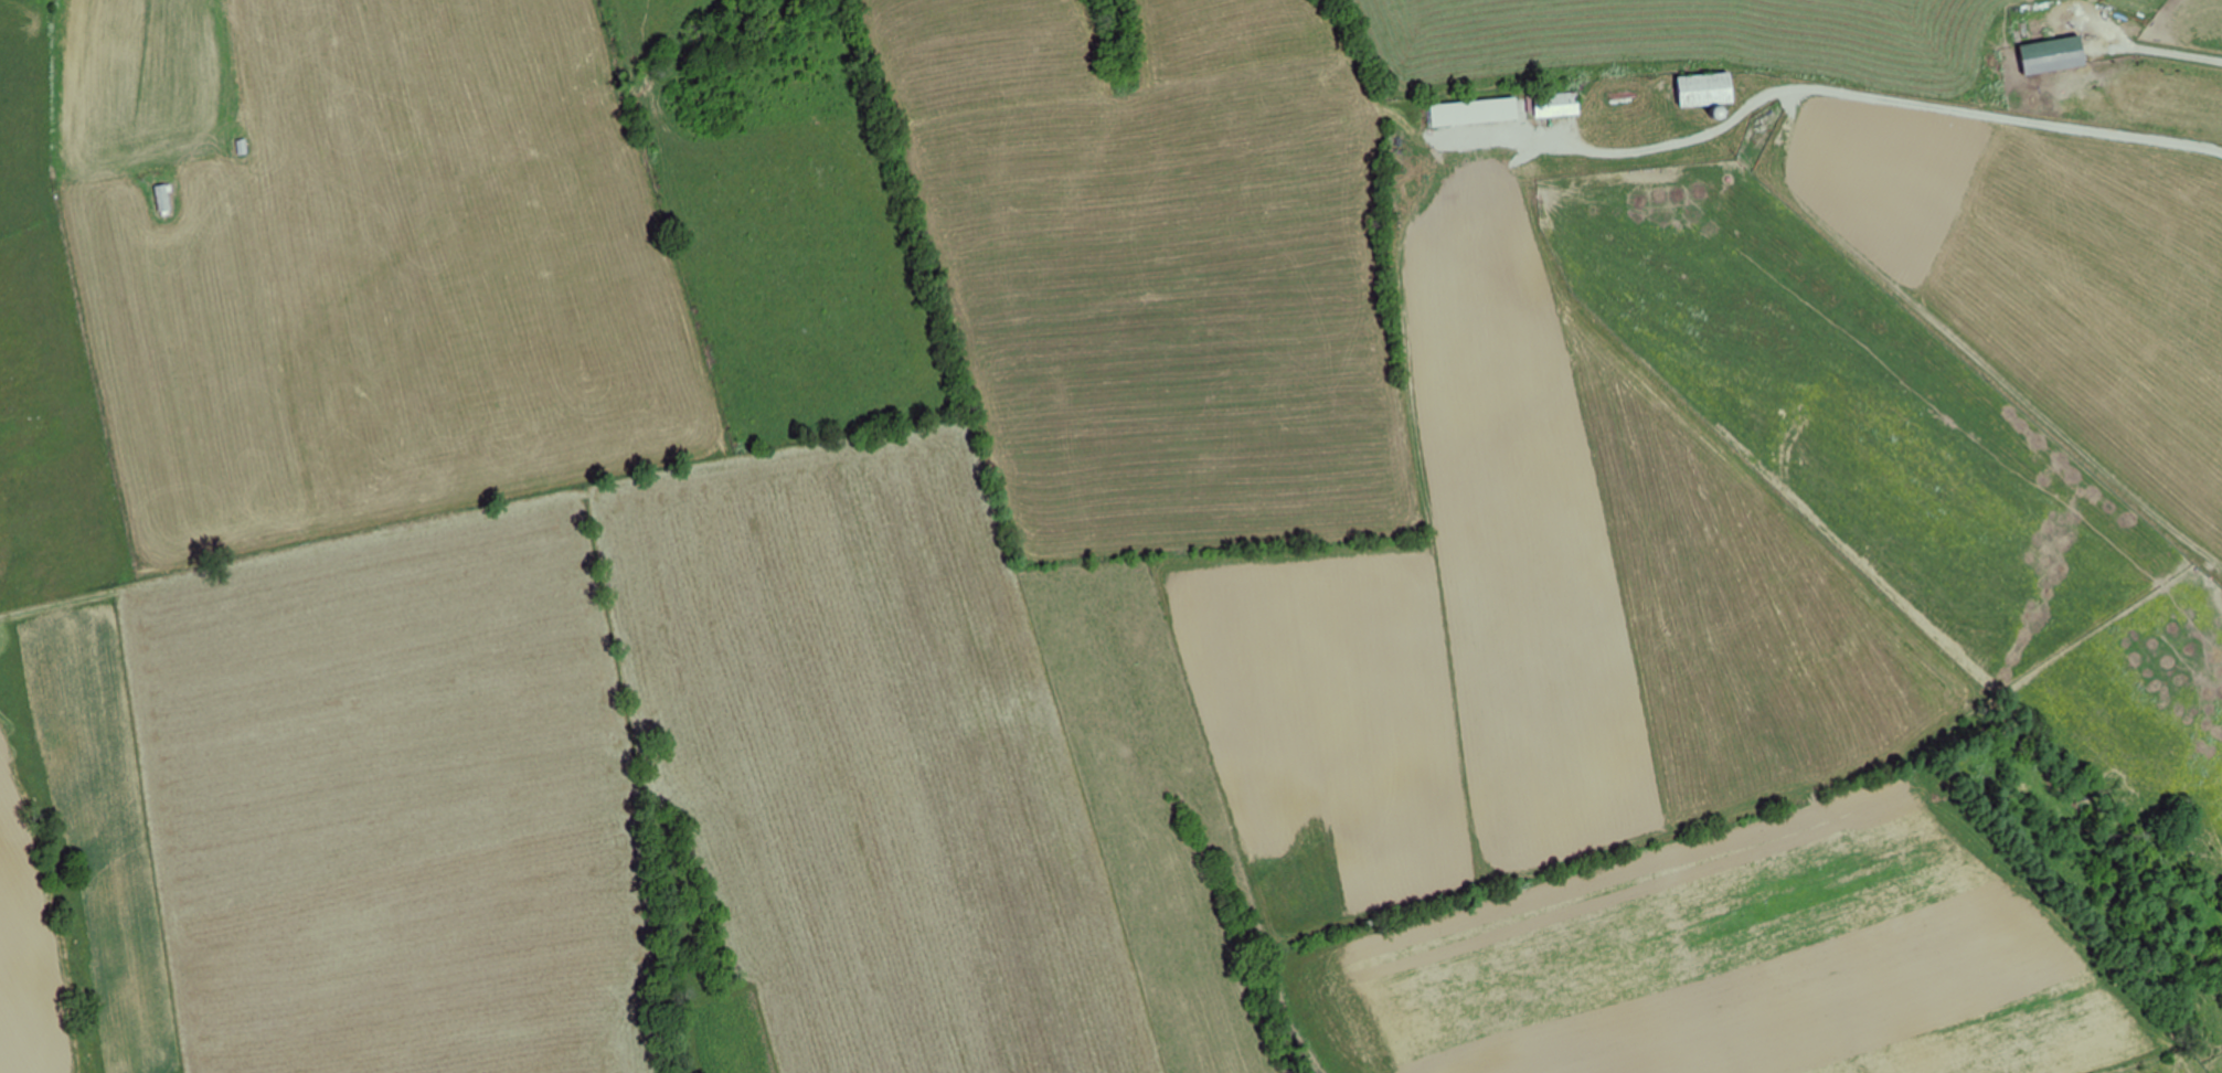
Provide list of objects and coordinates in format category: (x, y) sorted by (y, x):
building: (2054, 55)
building: (1707, 89)
building: (1557, 105)
building: (164, 199)
road: (297, 479)

